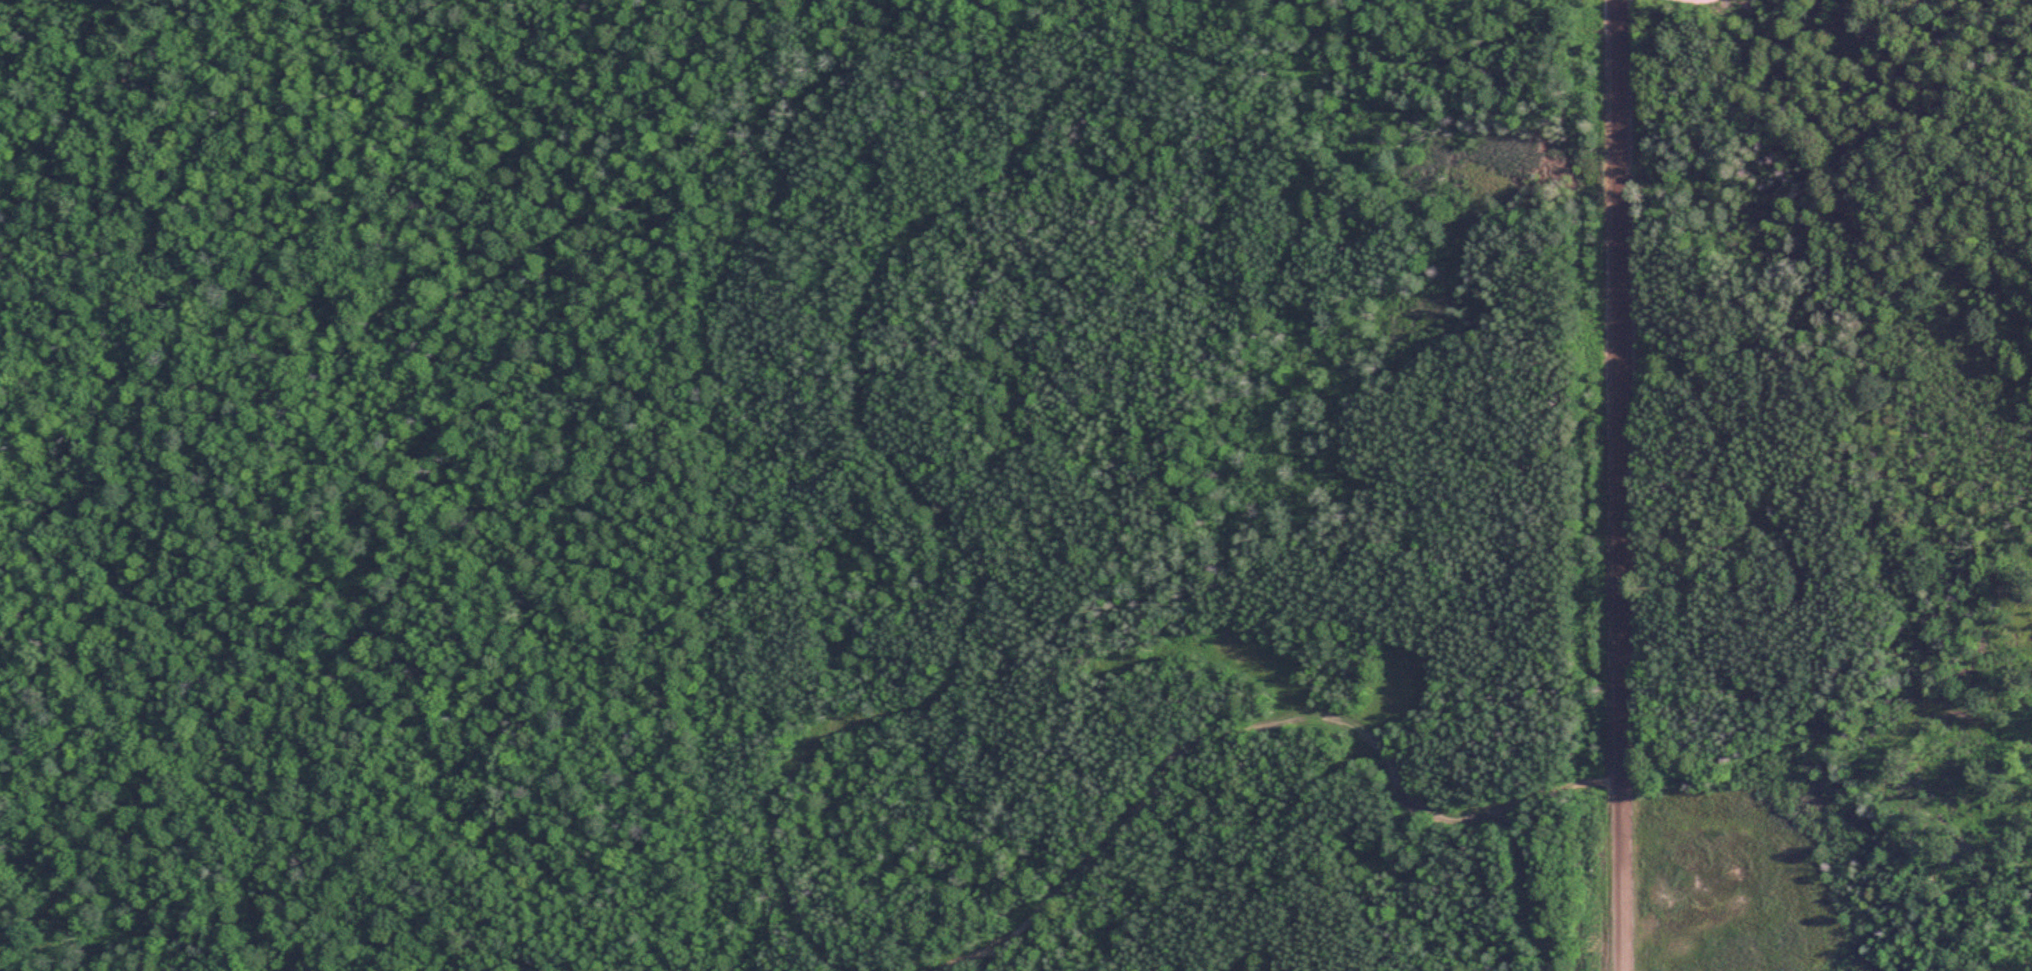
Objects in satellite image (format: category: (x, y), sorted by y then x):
road: (1622, 485)

